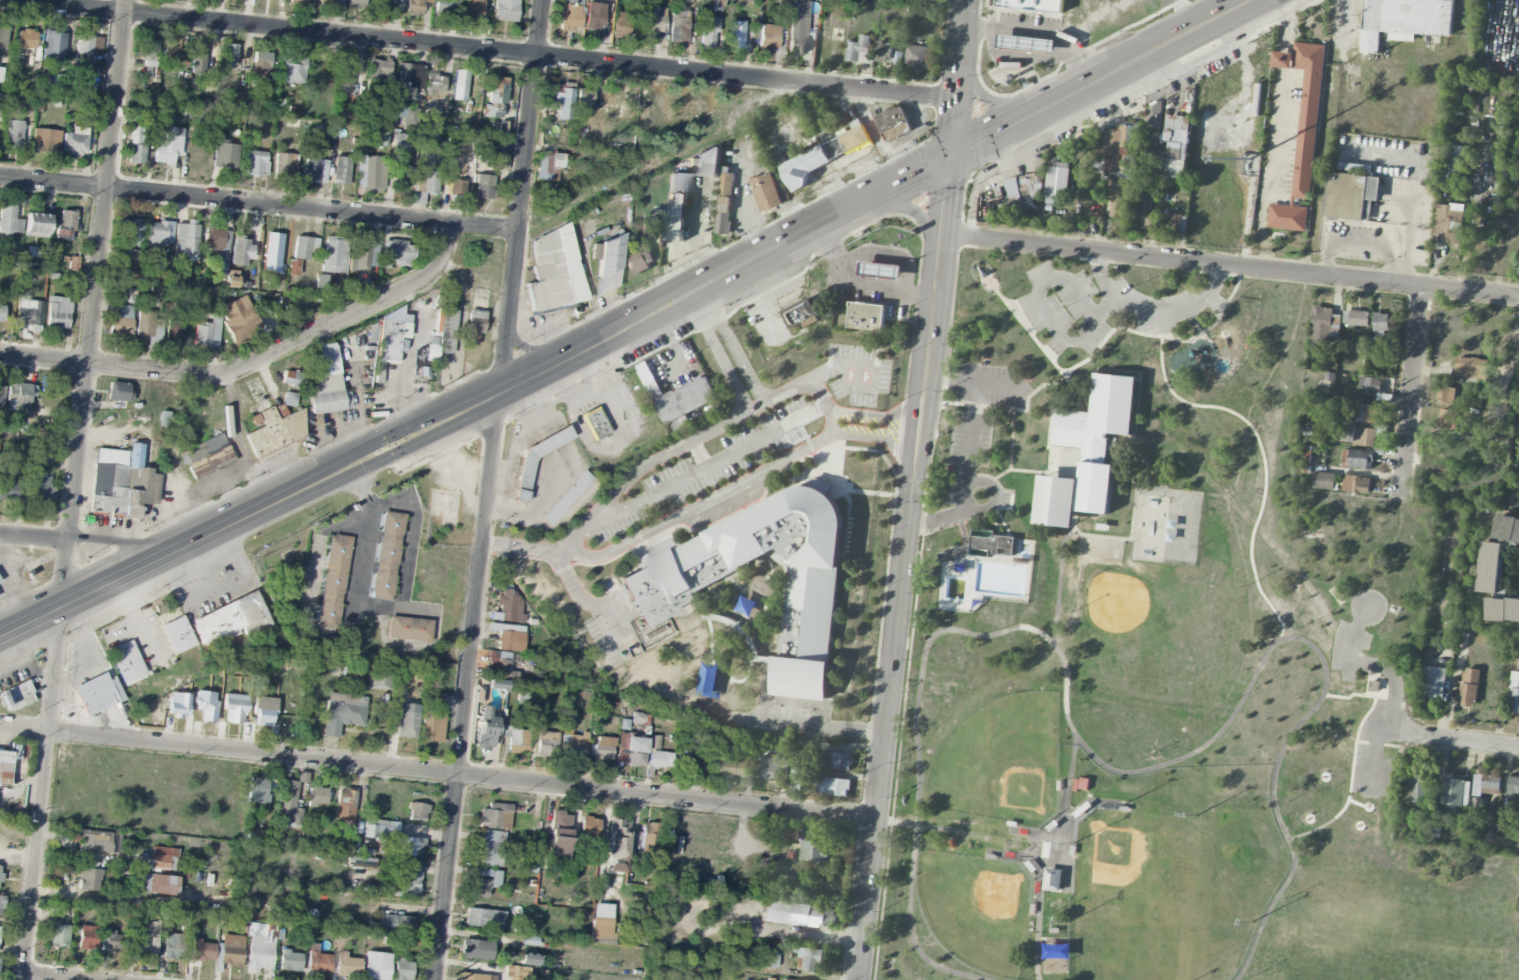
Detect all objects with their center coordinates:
building: (924, 0)
building: (301, 1)
building: (327, 1)
building: (784, 2)
building: (356, 3)
building: (718, 3)
building: (384, 4)
building: (1032, 5)
building: (415, 6)
building: (446, 7)
building: (473, 9)
building: (505, 10)
building: (571, 14)
building: (594, 15)
building: (653, 18)
building: (1404, 20)
building: (621, 25)
building: (679, 26)
road: (1042, 30)
building: (708, 32)
building: (737, 32)
building: (797, 34)
building: (769, 37)
building: (3, 38)
building: (26, 39)
building: (1027, 43)
building: (172, 47)
building: (54, 48)
road: (483, 50)
building: (859, 50)
building: (83, 53)
building: (150, 53)
building: (887, 53)
building: (229, 55)
building: (917, 56)
building: (261, 61)
building: (293, 70)
building: (346, 70)
building: (1, 74)
building: (377, 77)
building: (407, 80)
building: (434, 85)
building: (460, 85)
road: (1282, 90)
building: (584, 97)
building: (495, 99)
road: (990, 99)
building: (561, 100)
building: (406, 115)
road: (736, 115)
building: (1154, 115)
building: (894, 123)
building: (504, 130)
building: (1301, 133)
building: (14, 134)
building: (855, 136)
building: (385, 137)
building: (46, 141)
building: (75, 141)
building: (401, 143)
building: (1177, 144)
building: (137, 145)
building: (168, 146)
building: (1119, 147)
building: (225, 155)
traffic signals: (953, 156)
building: (707, 162)
building: (256, 163)
building: (811, 163)
building: (1451, 163)
building: (282, 166)
building: (549, 166)
road: (1418, 166)
building: (1353, 167)
building: (341, 170)
building: (316, 171)
building: (370, 173)
building: (406, 173)
building: (1057, 181)
building: (426, 182)
building: (679, 182)
building: (484, 187)
building: (457, 188)
building: (766, 192)
building: (1023, 193)
building: (1351, 196)
building: (1121, 201)
building: (724, 203)
road: (259, 204)
road: (911, 210)
building: (1144, 215)
building: (675, 217)
building: (9, 221)
building: (1450, 222)
building: (66, 223)
building: (1175, 223)
road: (1262, 224)
building: (37, 225)
building: (131, 231)
road: (1412, 232)
building: (159, 233)
building: (186, 241)
road: (1358, 243)
building: (218, 244)
building: (305, 247)
building: (273, 249)
building: (241, 251)
building: (363, 254)
building: (396, 254)
building: (335, 255)
building: (639, 258)
building: (606, 263)
building: (293, 267)
road: (1231, 267)
building: (881, 270)
building: (553, 271)
building: (179, 274)
building: (156, 275)
road: (863, 284)
building: (157, 287)
flagpole: (1002, 292)
flagpole: (997, 297)
road: (1043, 310)
road: (355, 311)
building: (27, 312)
building: (58, 312)
building: (802, 312)
road: (1153, 312)
building: (2, 314)
building: (866, 316)
building: (1356, 318)
building: (241, 320)
building: (121, 321)
building: (1381, 321)
building: (1323, 324)
building: (144, 325)
road: (631, 325)
building: (474, 326)
road: (1023, 326)
building: (174, 332)
building: (208, 333)
building: (441, 335)
building: (391, 336)
street lamp: (1246, 341)
road: (735, 344)
road: (717, 354)
road: (115, 364)
building: (1470, 368)
road: (840, 369)
building: (377, 372)
building: (295, 379)
road: (940, 379)
building: (650, 380)
building: (326, 382)
road: (964, 382)
road: (1053, 383)
building: (1370, 385)
building: (119, 392)
road: (1411, 393)
building: (1, 394)
building: (1446, 395)
building: (19, 397)
road: (1082, 399)
road: (1136, 401)
building: (684, 403)
road: (825, 406)
building: (1366, 413)
road: (971, 414)
road: (874, 416)
road: (1236, 416)
building: (1447, 419)
building: (595, 424)
building: (274, 431)
building: (1361, 435)
road: (1048, 436)
road: (877, 437)
road: (674, 448)
road: (1010, 448)
building: (1088, 451)
building: (540, 453)
building: (37, 456)
building: (207, 456)
building: (1358, 458)
road: (709, 464)
building: (1324, 481)
building: (121, 483)
building: (1356, 484)
building: (8, 488)
building: (40, 488)
road: (73, 489)
road: (489, 489)
road: (913, 489)
building: (566, 497)
road: (700, 505)
road: (986, 508)
road: (413, 520)
park: (1150, 527)
building: (1507, 529)
road: (1091, 533)
road: (34, 537)
building: (981, 545)
road: (121, 546)
road: (520, 547)
building: (387, 555)
building: (1491, 567)
building: (333, 581)
street lamp: (1245, 585)
building: (662, 594)
road: (590, 604)
building: (510, 606)
building: (1503, 610)
park: (1136, 619)
building: (231, 620)
street lamp: (1300, 625)
building: (409, 629)
building: (178, 634)
building: (510, 638)
parking lot: (1348, 648)
building: (497, 657)
building: (127, 661)
park: (1160, 662)
road: (1361, 664)
building: (354, 674)
road: (920, 679)
building: (379, 680)
building: (1433, 682)
building: (497, 685)
building: (1469, 687)
street lamp: (1344, 690)
building: (1514, 692)
building: (95, 693)
building: (15, 697)
building: (437, 701)
street lamp: (1226, 702)
building: (174, 705)
building: (235, 707)
building: (206, 708)
building: (343, 712)
building: (264, 716)
building: (567, 720)
building: (407, 721)
building: (431, 726)
road: (808, 726)
road: (1413, 727)
building: (485, 729)
street lamp: (1308, 731)
road: (1288, 735)
building: (516, 739)
road: (1477, 739)
building: (546, 742)
building: (654, 742)
building: (576, 743)
building: (802, 745)
building: (601, 749)
building: (631, 750)
road: (1374, 755)
street lamp: (1146, 756)
building: (690, 758)
building: (660, 759)
building: (705, 759)
building: (841, 761)
park: (1002, 762)
building: (5, 767)
building: (731, 767)
building: (770, 768)
parking lot: (1373, 768)
road: (438, 773)
building: (798, 778)
building: (1486, 783)
building: (834, 786)
building: (1420, 786)
building: (1513, 786)
building: (258, 791)
building: (1455, 791)
building: (318, 796)
street lamp: (1285, 801)
street lamp: (1115, 802)
building: (288, 806)
building: (1477, 806)
building: (344, 808)
street lamp: (1195, 811)
building: (418, 812)
building: (496, 817)
building: (378, 829)
building: (590, 829)
building: (3, 832)
road: (1029, 832)
building: (559, 836)
building: (649, 838)
building: (99, 842)
building: (412, 846)
building: (617, 846)
building: (489, 848)
road: (1043, 850)
building: (813, 851)
road: (1049, 856)
road: (17, 858)
building: (163, 859)
building: (361, 862)
building: (0, 870)
building: (1053, 879)
building: (89, 880)
building: (483, 882)
building: (158, 884)
building: (408, 885)
park: (1159, 894)
road: (1271, 902)
building: (1, 904)
park: (978, 910)
building: (798, 914)
building: (484, 919)
building: (392, 925)
building: (601, 928)
park: (1393, 928)
road: (804, 932)
building: (58, 934)
building: (102, 935)
building: (88, 937)
building: (145, 938)
building: (116, 942)
building: (174, 946)
building: (259, 949)
building: (476, 950)
building: (202, 951)
building: (232, 951)
building: (529, 959)
building: (811, 959)
building: (318, 960)
building: (290, 961)
building: (771, 961)
building: (347, 965)
building: (377, 966)
building: (402, 970)
building: (517, 971)
road: (46, 977)
building: (477, 977)

